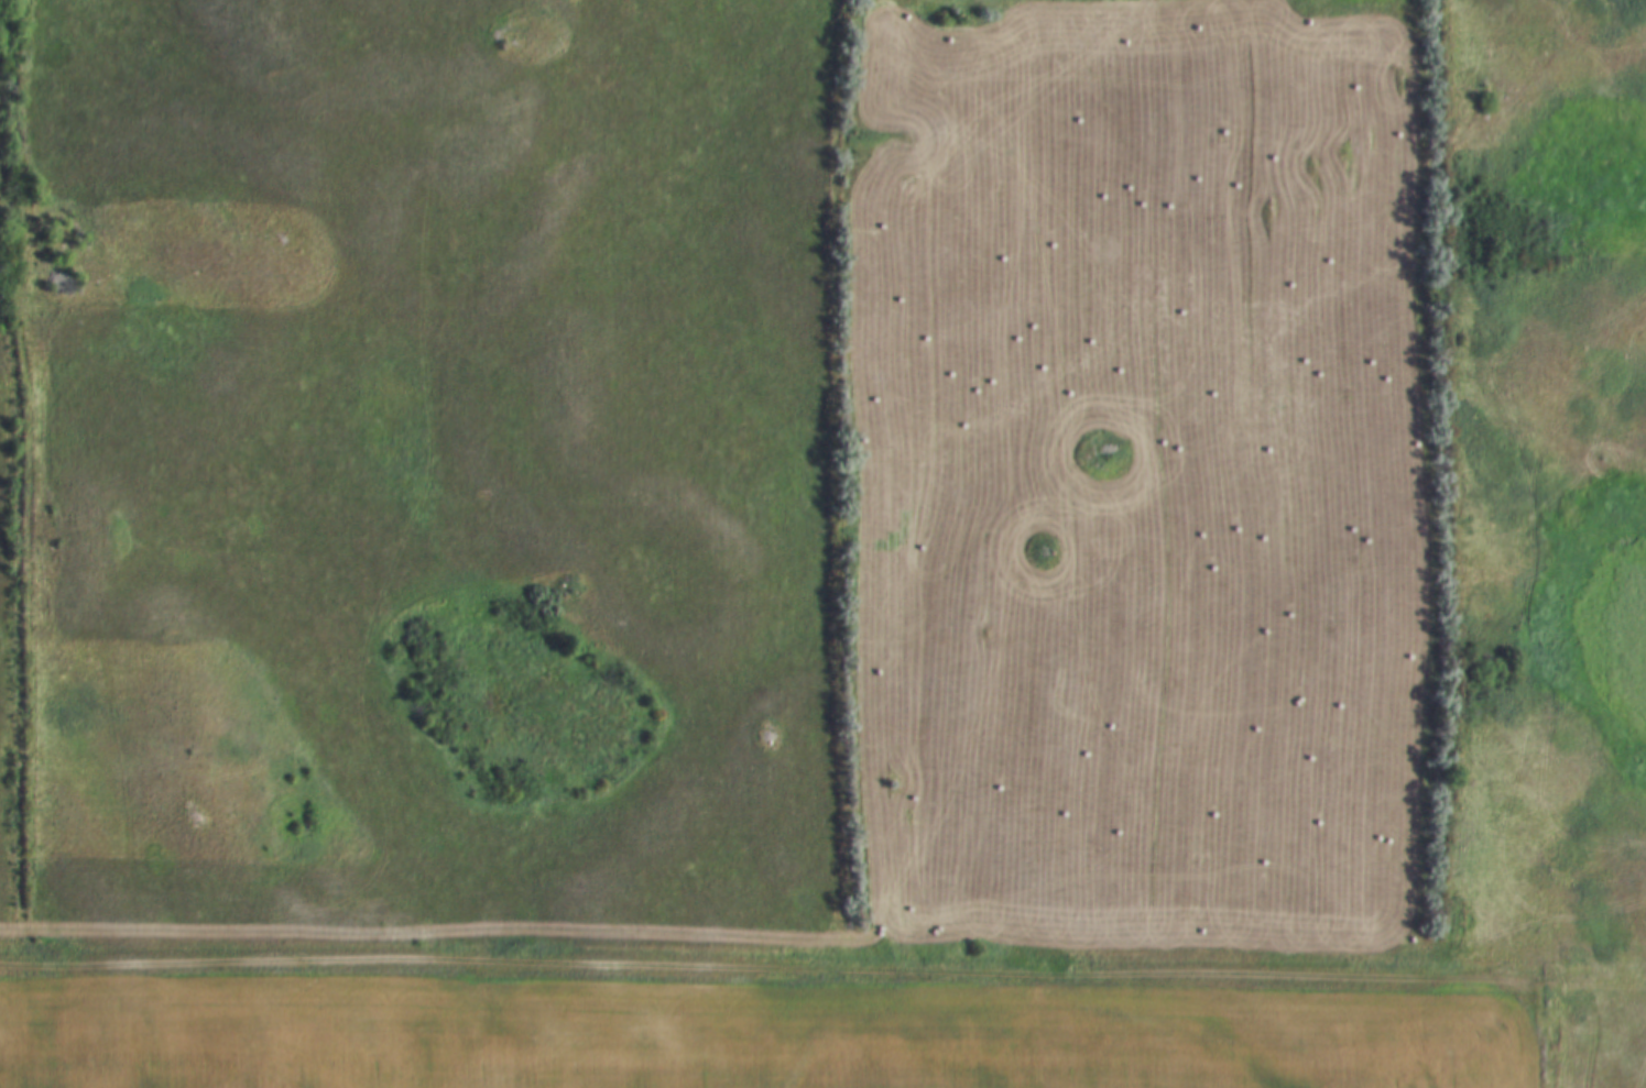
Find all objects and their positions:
road: (294, 965)

